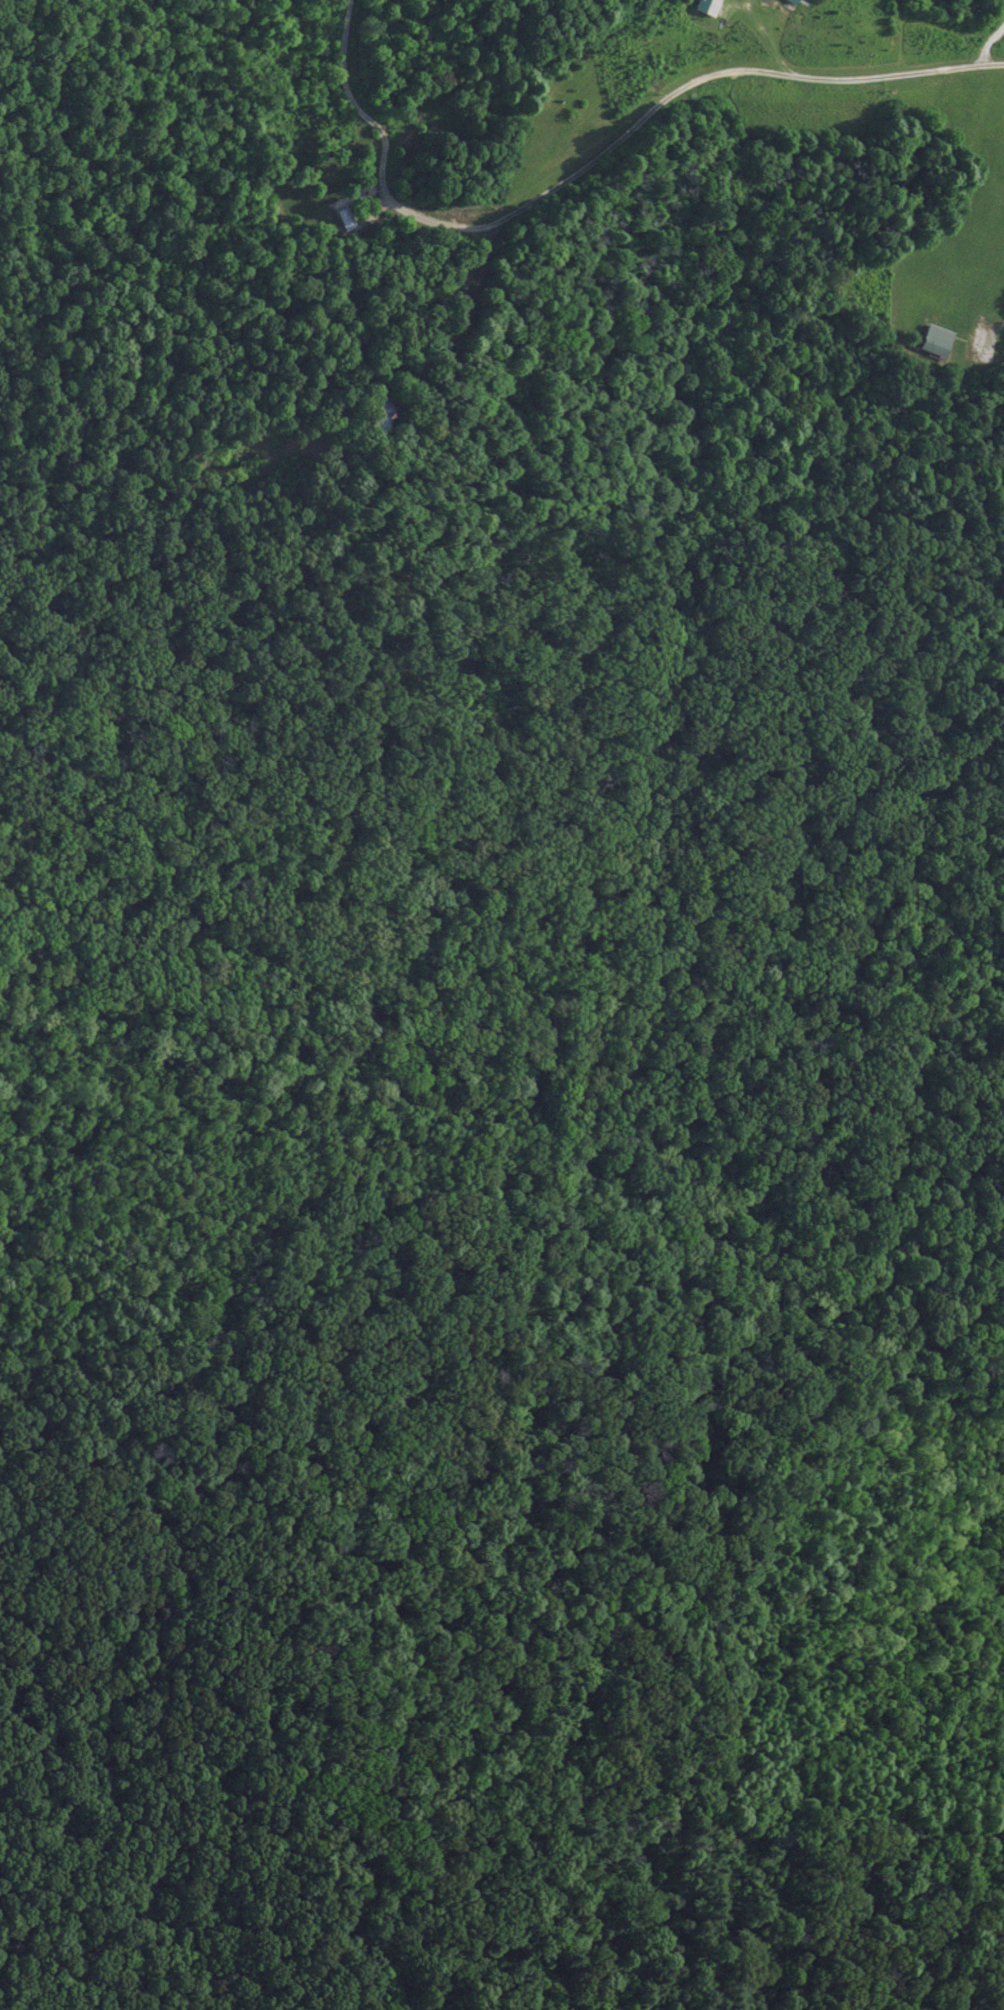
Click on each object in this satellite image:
building: (701, 7)
road: (589, 144)
road: (997, 329)
building: (931, 341)

